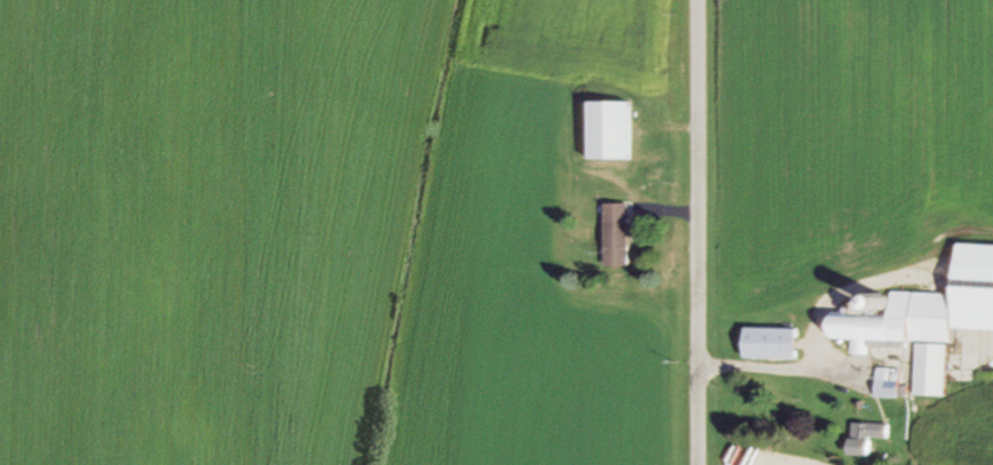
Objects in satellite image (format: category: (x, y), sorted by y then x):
building: (608, 131)
road: (699, 232)
building: (615, 236)
building: (897, 323)
building: (768, 344)
road: (773, 366)
building: (928, 371)
building: (886, 384)
building: (863, 438)

